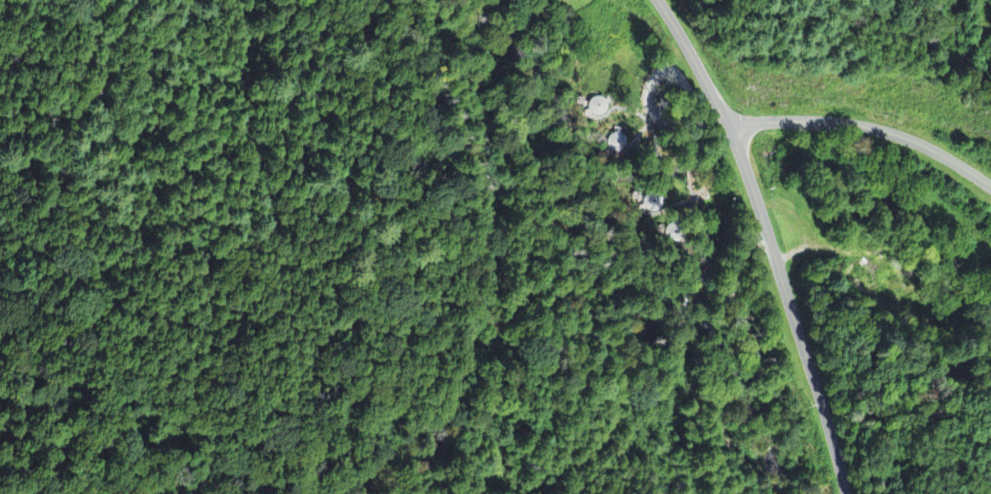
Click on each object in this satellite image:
building: (597, 108)
road: (866, 125)
road: (769, 239)

